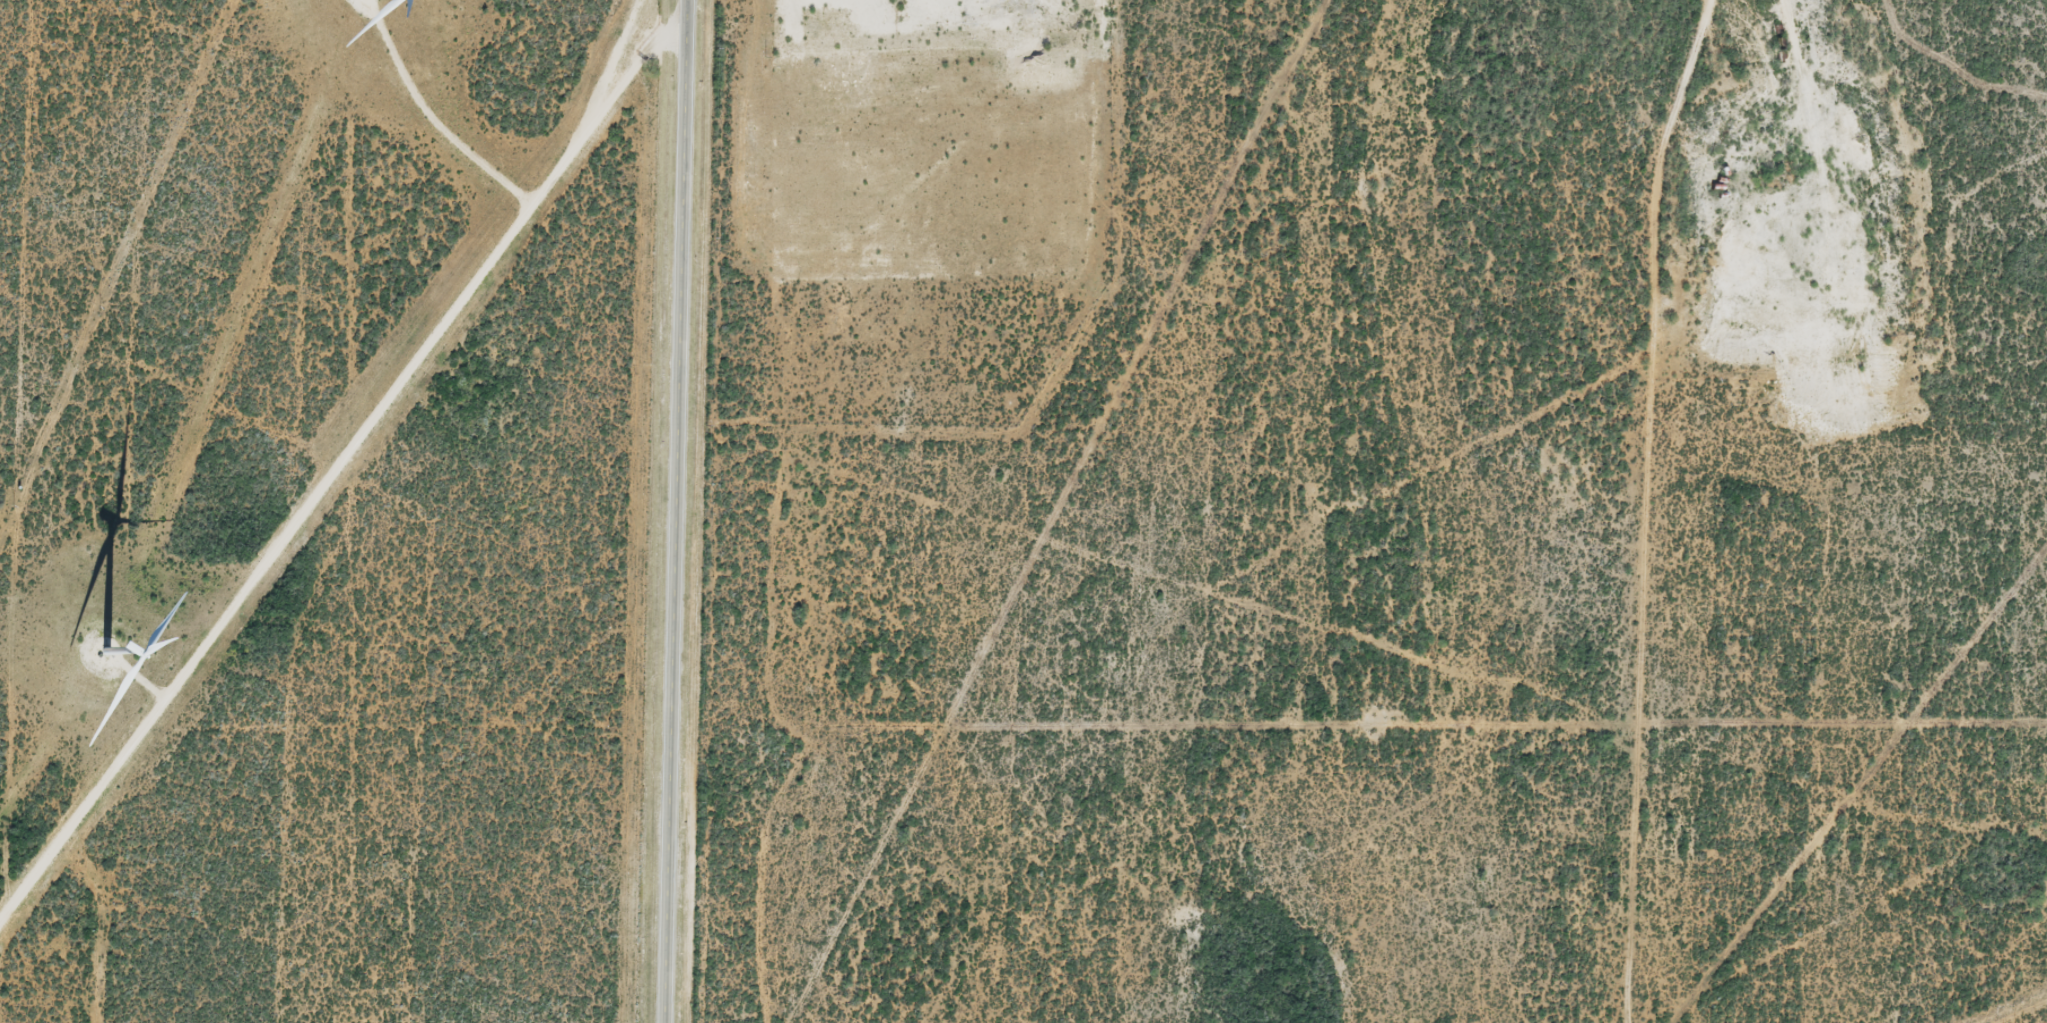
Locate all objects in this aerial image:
road: (333, 493)
road: (682, 511)
wind turbine: (108, 651)

